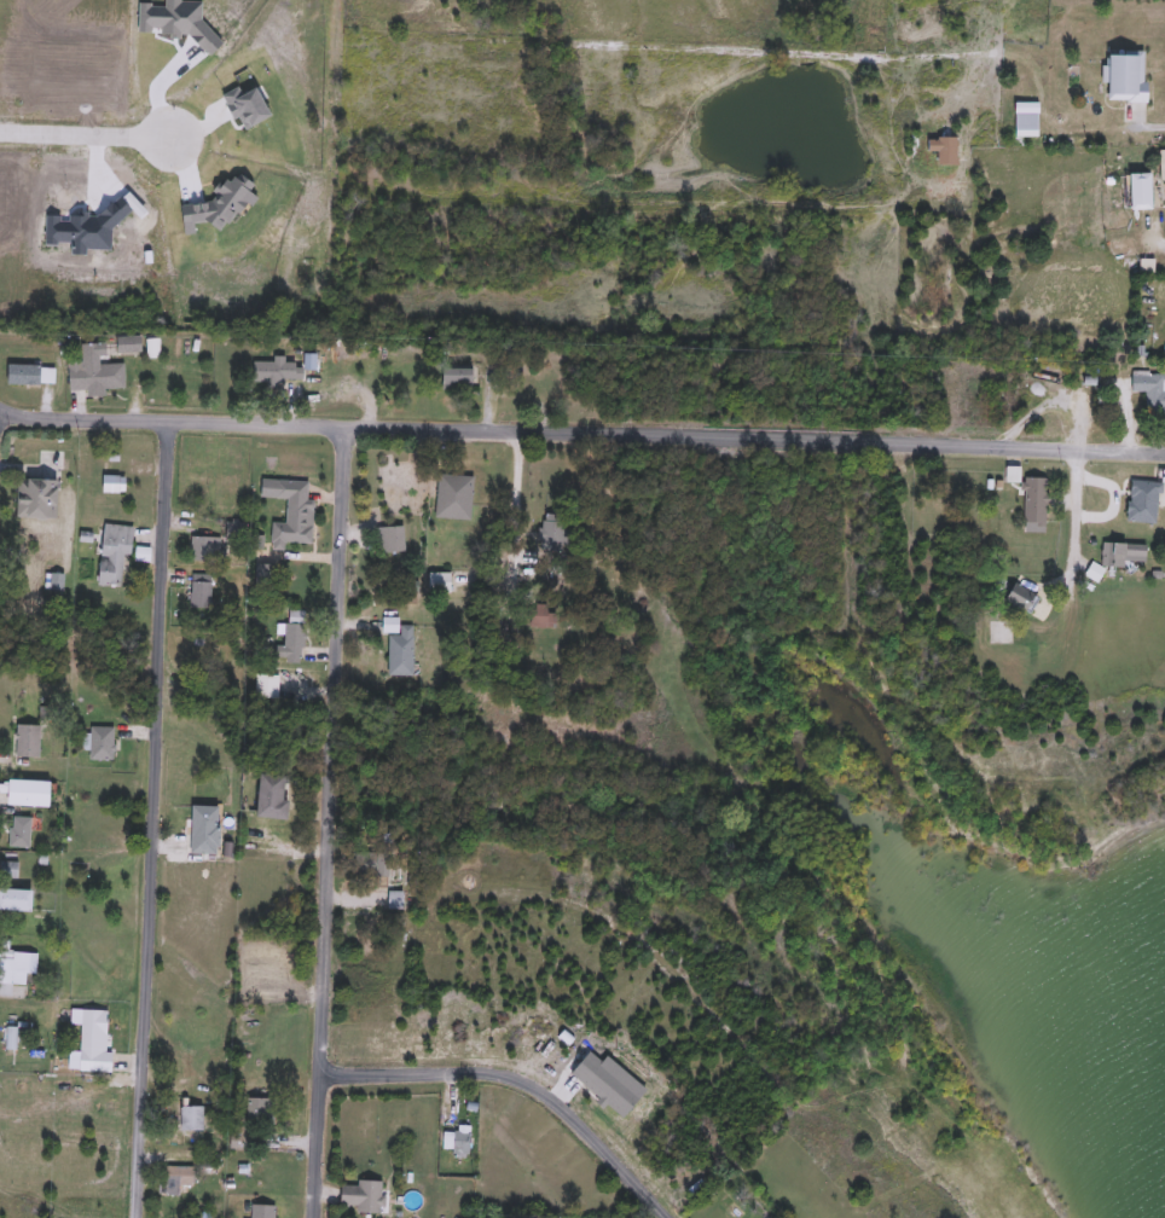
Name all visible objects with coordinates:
building: (1128, 77)
road: (1149, 123)
building: (1026, 126)
road: (86, 130)
building: (1142, 192)
road: (1152, 232)
building: (129, 346)
building: (269, 371)
building: (95, 372)
building: (30, 376)
building: (458, 376)
building: (1155, 393)
road: (581, 434)
building: (115, 483)
building: (447, 495)
building: (37, 497)
building: (1036, 500)
building: (297, 507)
building: (236, 528)
road: (520, 529)
building: (551, 534)
building: (395, 538)
building: (208, 547)
building: (1130, 553)
building: (115, 555)
building: (1095, 572)
building: (57, 580)
building: (441, 581)
road: (1067, 584)
building: (202, 591)
building: (1021, 597)
building: (296, 639)
building: (402, 651)
building: (28, 741)
building: (102, 743)
building: (29, 793)
building: (272, 795)
road: (153, 822)
road: (326, 825)
building: (205, 829)
building: (21, 831)
building: (8, 869)
building: (17, 899)
building: (395, 900)
building: (18, 968)
building: (262, 978)
building: (93, 1040)
road: (516, 1085)
building: (192, 1118)
building: (253, 1121)
building: (458, 1142)
building: (179, 1177)
building: (363, 1196)
building: (263, 1211)

